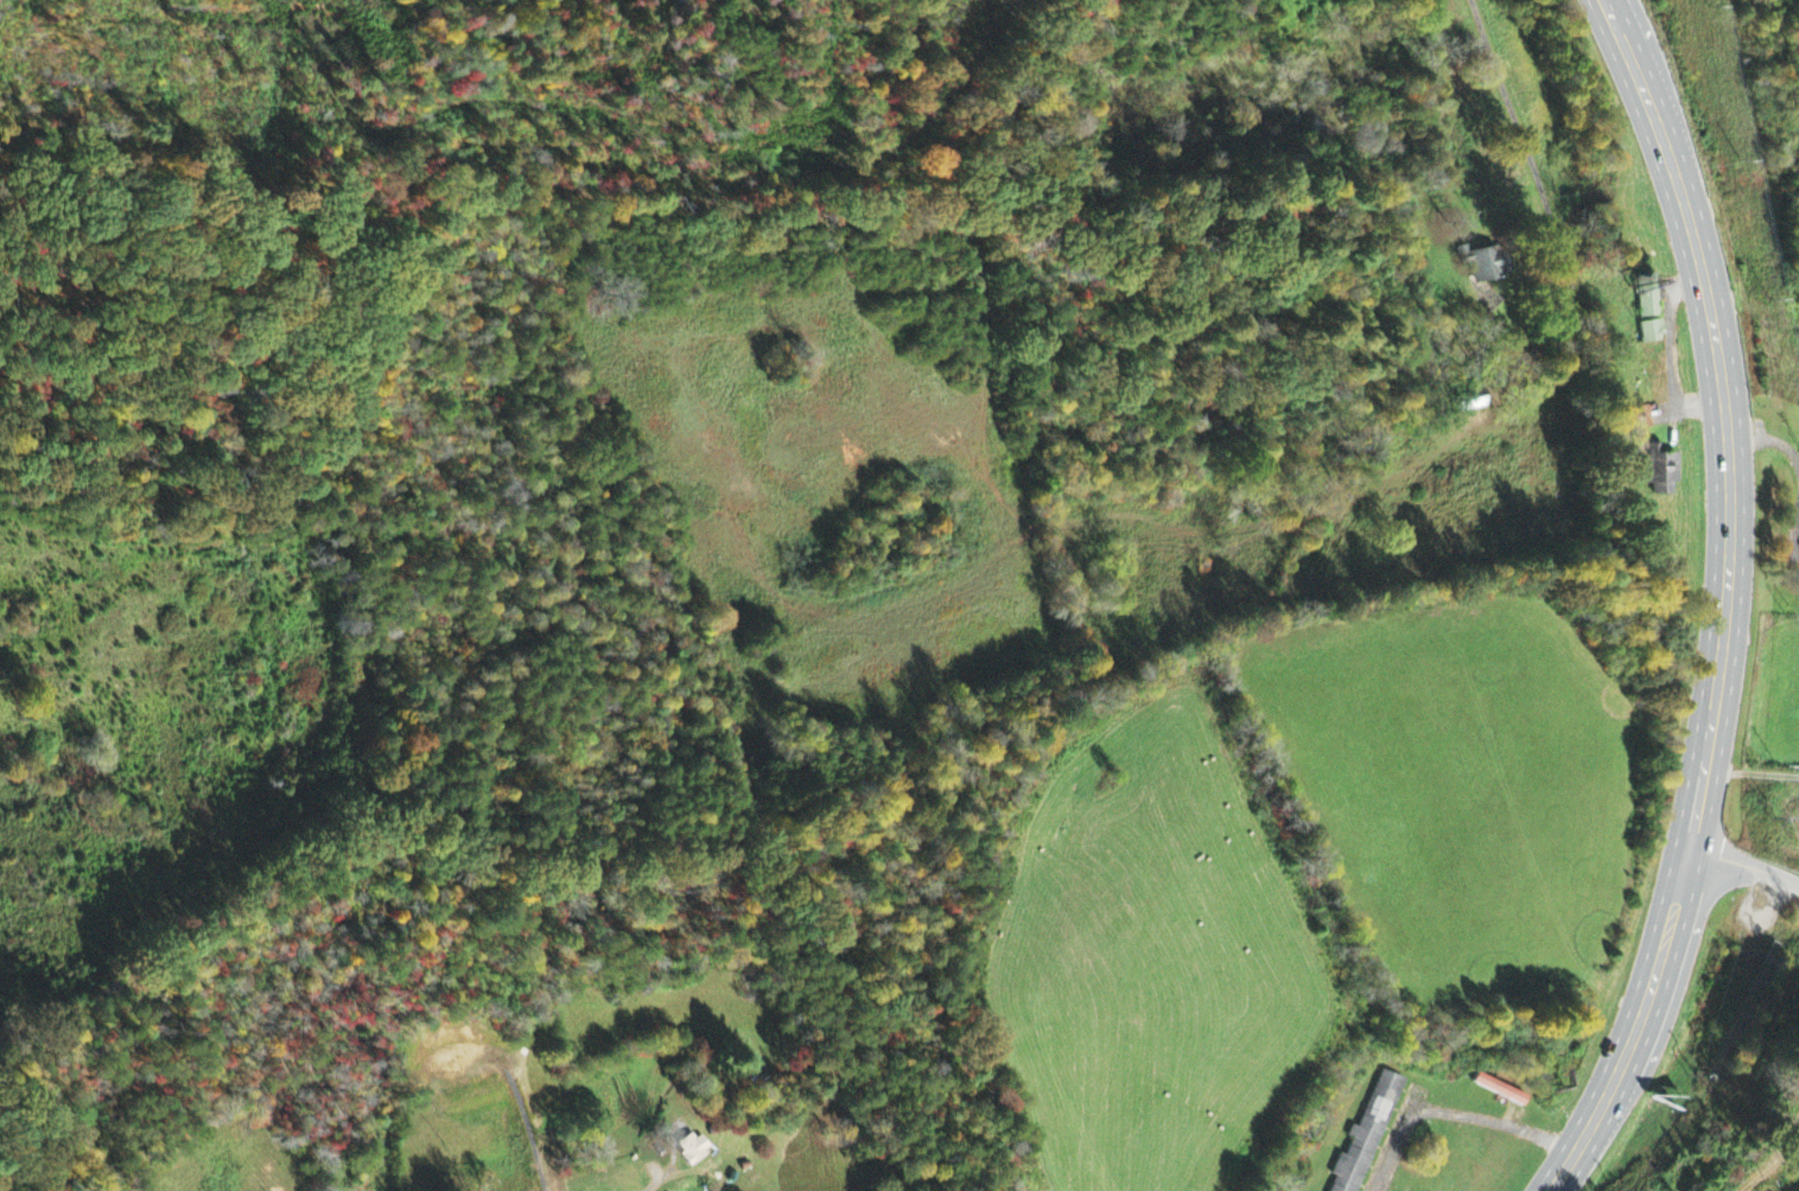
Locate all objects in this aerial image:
building: (1488, 266)
building: (1649, 317)
building: (1654, 460)
road: (1724, 601)
road: (1744, 864)
building: (1501, 1091)
building: (1366, 1135)
building: (693, 1149)

